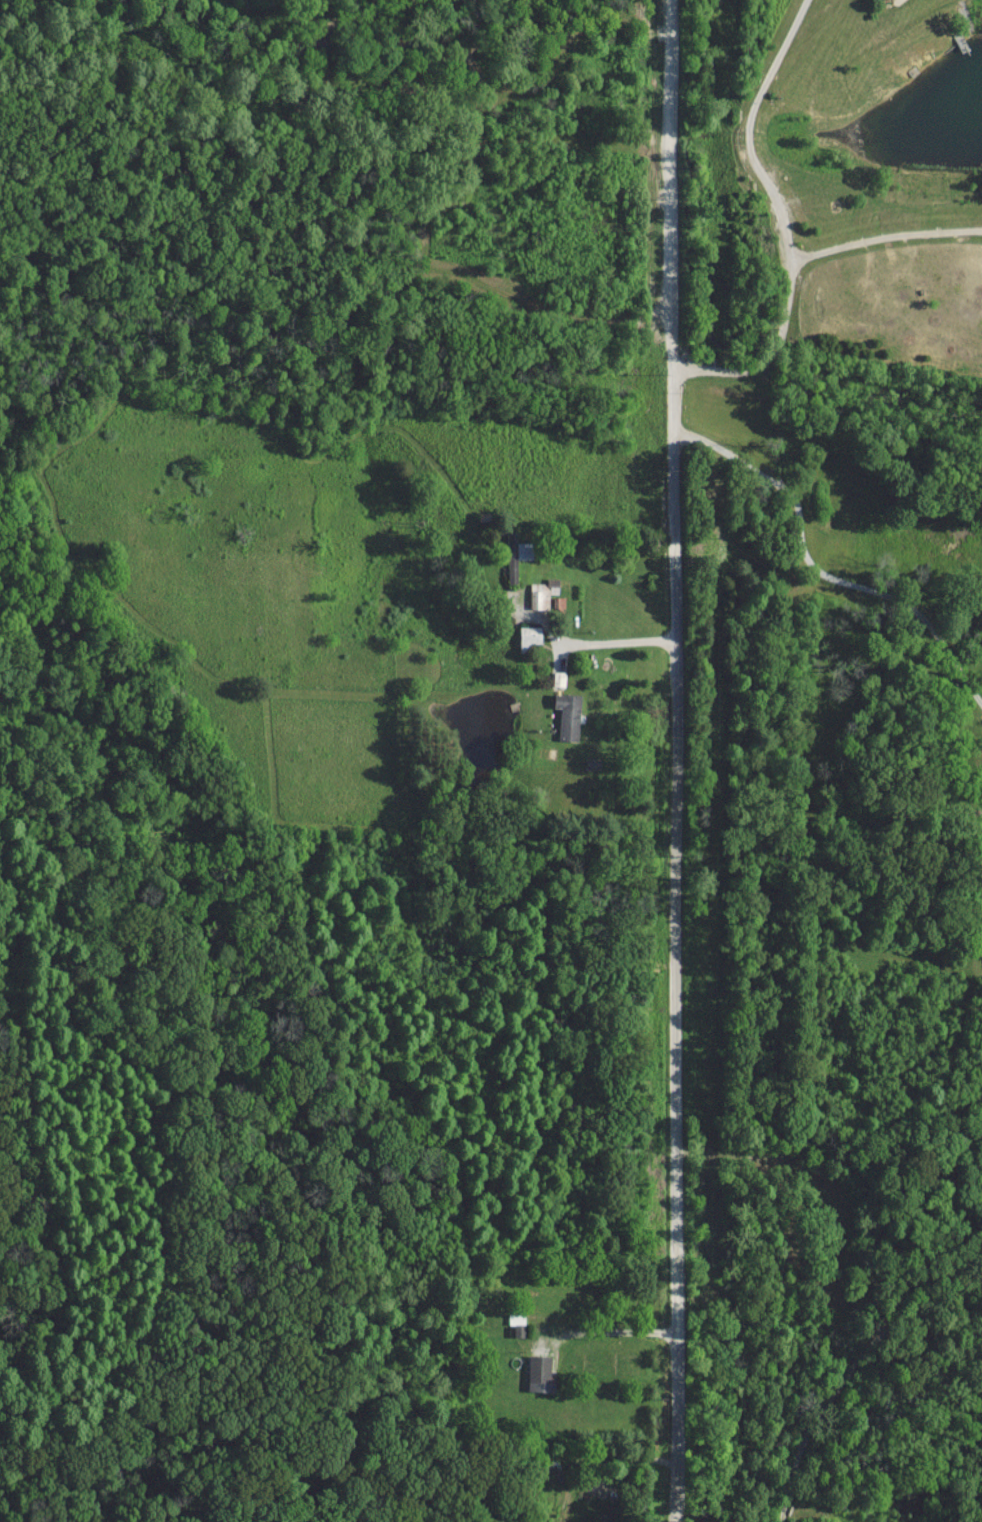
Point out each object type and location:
road: (785, 223)
road: (887, 238)
building: (523, 550)
road: (816, 569)
building: (541, 593)
building: (530, 636)
road: (618, 642)
building: (568, 715)
road: (674, 761)
road: (615, 1330)
building: (540, 1373)

